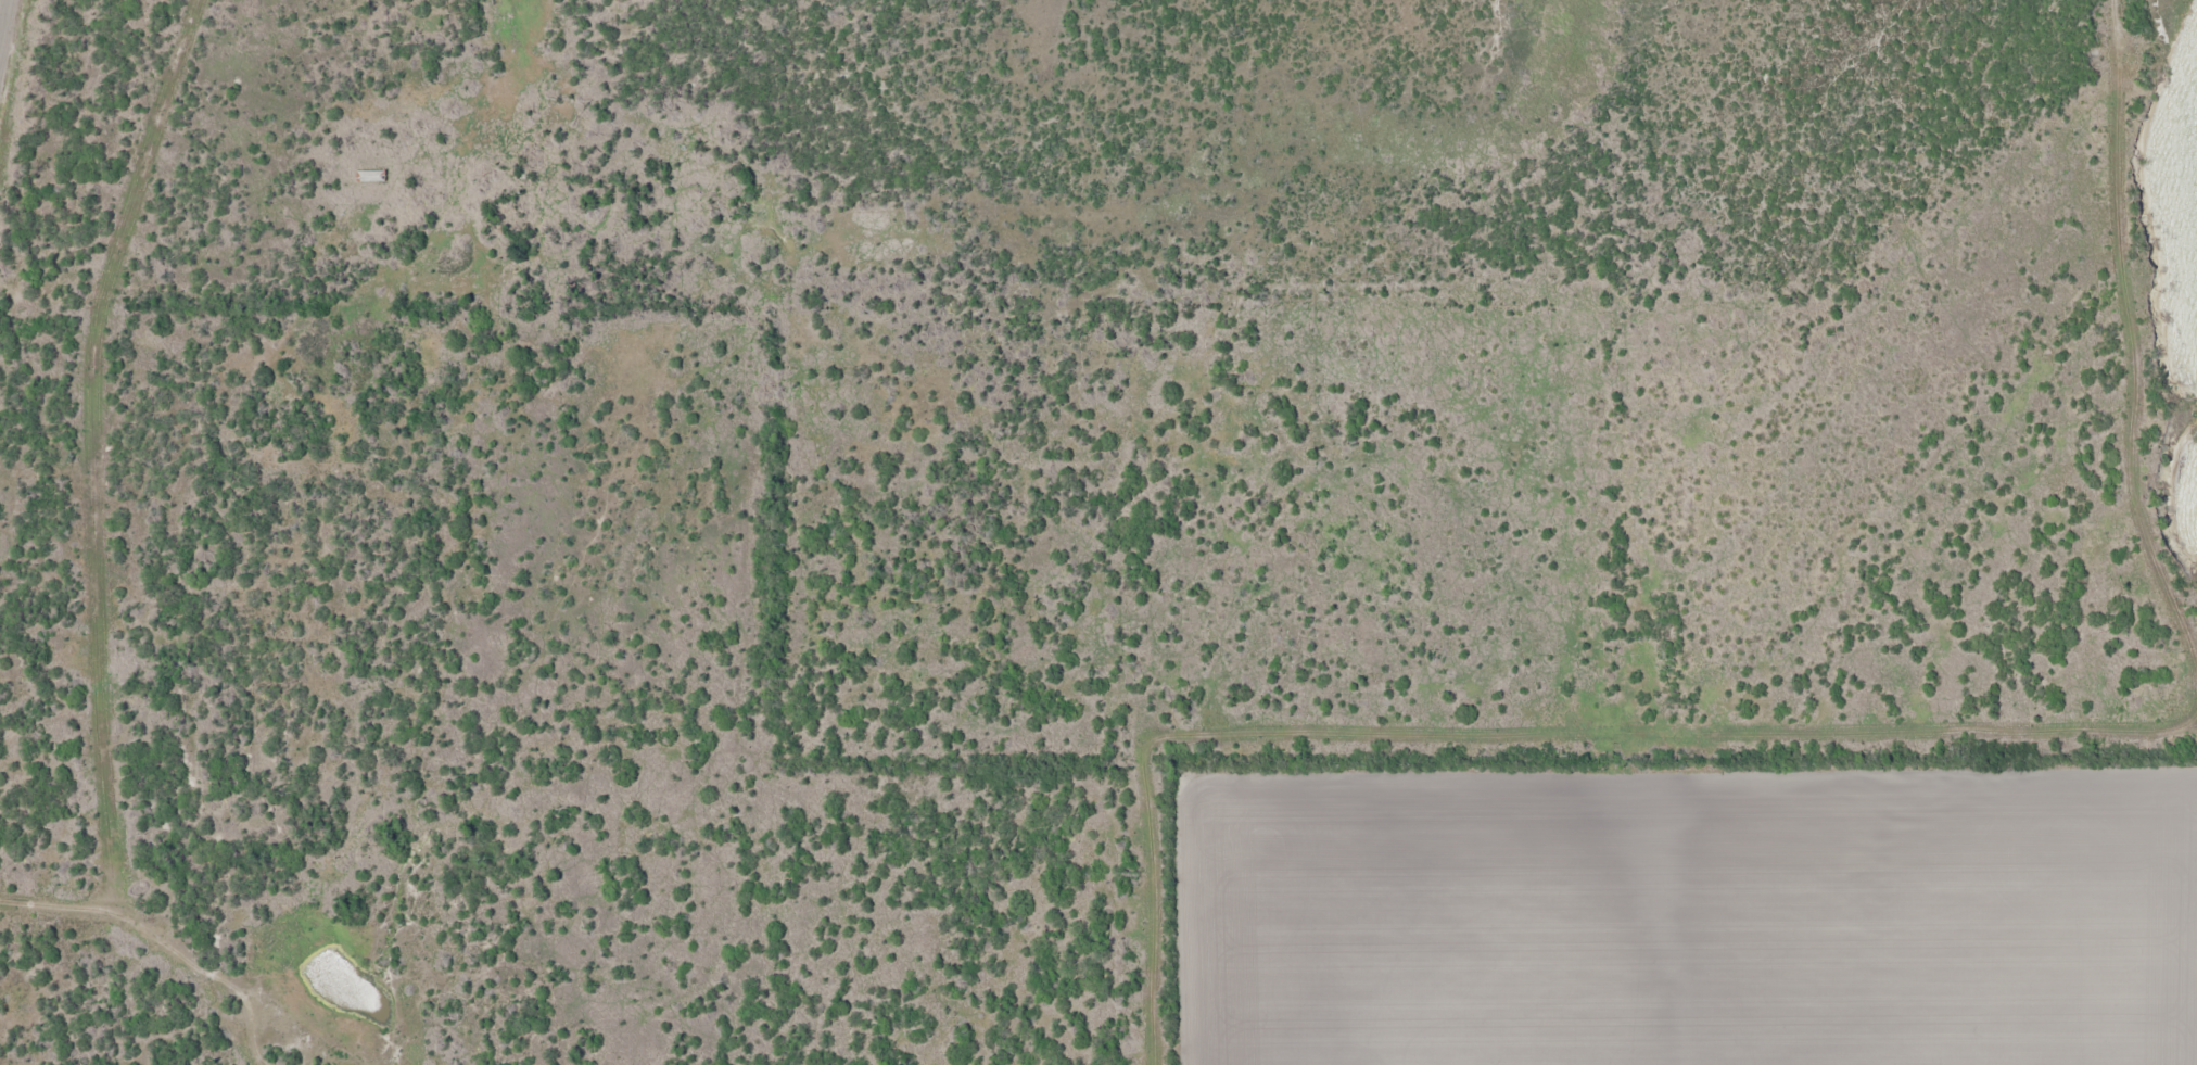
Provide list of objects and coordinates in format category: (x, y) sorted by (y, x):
building: (372, 175)
road: (1308, 297)

